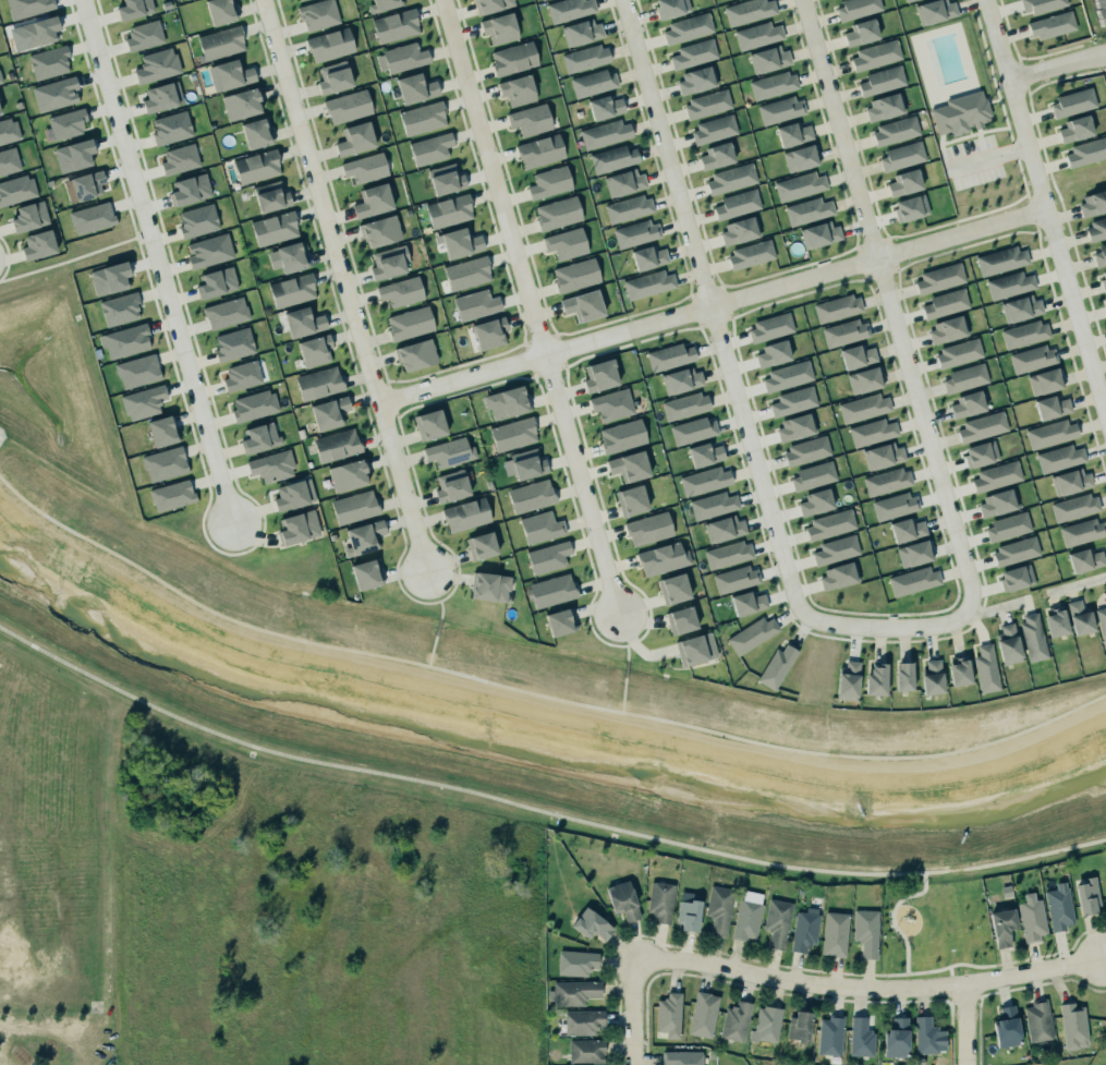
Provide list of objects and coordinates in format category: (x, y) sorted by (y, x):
building: (300, 0)
building: (906, 0)
building: (908, 0)
building: (382, 4)
building: (489, 4)
building: (1040, 5)
building: (27, 8)
building: (670, 8)
building: (856, 8)
building: (1099, 8)
building: (134, 9)
building: (568, 9)
building: (218, 11)
building: (749, 11)
building: (935, 11)
building: (316, 13)
building: (1049, 23)
building: (394, 24)
building: (686, 27)
building: (500, 28)
building: (580, 31)
building: (39, 32)
building: (862, 33)
building: (756, 34)
building: (144, 36)
building: (219, 41)
building: (330, 45)
road: (985, 52)
building: (694, 53)
building: (874, 55)
building: (583, 57)
building: (402, 58)
building: (514, 58)
building: (768, 58)
building: (49, 62)
building: (155, 63)
road: (1057, 65)
building: (230, 73)
building: (332, 76)
building: (696, 78)
building: (0, 80)
building: (880, 80)
building: (592, 82)
building: (773, 84)
building: (416, 88)
building: (518, 90)
building: (56, 94)
building: (162, 97)
road: (987, 98)
road: (994, 99)
building: (240, 102)
building: (1072, 102)
building: (345, 105)
building: (707, 105)
building: (604, 106)
building: (884, 106)
building: (779, 108)
building: (959, 111)
road: (1002, 112)
building: (0, 113)
park: (968, 117)
building: (423, 118)
building: (63, 119)
building: (531, 120)
building: (171, 128)
road: (992, 128)
road: (839, 129)
road: (977, 129)
building: (1075, 129)
building: (713, 130)
building: (894, 130)
building: (9, 131)
building: (257, 133)
building: (793, 133)
building: (606, 134)
road: (979, 134)
road: (1009, 134)
building: (353, 137)
road: (940, 137)
road: (959, 137)
road: (940, 145)
building: (430, 148)
building: (73, 149)
road: (1013, 149)
building: (539, 150)
building: (1085, 153)
building: (901, 155)
building: (716, 156)
building: (611, 157)
road: (988, 157)
building: (801, 158)
building: (179, 159)
building: (9, 161)
parking lot: (972, 161)
building: (257, 167)
building: (364, 167)
road: (1021, 174)
building: (731, 179)
building: (446, 180)
building: (547, 180)
building: (623, 181)
building: (902, 182)
building: (799, 185)
building: (84, 186)
building: (16, 190)
building: (191, 190)
building: (269, 195)
road: (1028, 196)
building: (372, 199)
building: (1092, 203)
building: (738, 204)
road: (1046, 206)
building: (909, 207)
building: (448, 208)
building: (629, 208)
building: (807, 209)
building: (558, 213)
building: (29, 216)
building: (92, 218)
road: (958, 219)
building: (197, 220)
road: (132, 223)
building: (275, 228)
building: (739, 229)
building: (1096, 229)
building: (378, 230)
building: (637, 233)
building: (818, 233)
building: (458, 238)
road: (137, 240)
road: (145, 240)
building: (566, 243)
building: (38, 245)
road: (141, 251)
building: (209, 251)
building: (750, 253)
building: (647, 255)
building: (1099, 255)
building: (290, 256)
road: (158, 259)
building: (1000, 259)
road: (69, 262)
building: (386, 263)
building: (465, 269)
road: (4, 274)
building: (574, 274)
building: (110, 278)
building: (937, 278)
building: (1102, 279)
building: (217, 282)
building: (1008, 283)
building: (649, 285)
road: (344, 286)
building: (291, 289)
building: (400, 290)
building: (474, 301)
building: (944, 303)
building: (1105, 303)
building: (581, 304)
road: (713, 306)
road: (531, 307)
building: (838, 307)
building: (1019, 307)
road: (712, 308)
building: (120, 310)
building: (226, 313)
building: (302, 322)
building: (409, 322)
building: (769, 326)
building: (841, 330)
building: (947, 330)
building: (488, 331)
building: (1023, 334)
building: (125, 341)
building: (233, 344)
building: (314, 349)
building: (771, 352)
building: (959, 352)
building: (414, 353)
building: (858, 355)
building: (670, 356)
building: (1033, 359)
park: (78, 360)
building: (138, 371)
building: (598, 374)
building: (963, 374)
building: (242, 376)
building: (788, 376)
building: (680, 379)
building: (864, 379)
building: (317, 382)
building: (1043, 382)
building: (506, 401)
building: (793, 401)
building: (143, 402)
building: (965, 403)
building: (612, 404)
building: (255, 406)
building: (685, 406)
building: (1050, 406)
building: (864, 408)
building: (327, 411)
building: (429, 424)
building: (794, 426)
building: (981, 426)
building: (691, 429)
building: (162, 431)
building: (871, 431)
building: (512, 433)
building: (619, 433)
building: (1049, 433)
building: (260, 437)
building: (336, 444)
building: (805, 450)
building: (448, 452)
building: (704, 453)
building: (979, 453)
building: (882, 455)
building: (1058, 457)
building: (627, 461)
building: (165, 463)
building: (270, 463)
building: (524, 464)
building: (347, 474)
building: (812, 475)
building: (995, 475)
building: (703, 480)
building: (886, 480)
building: (1069, 481)
building: (450, 486)
building: (172, 495)
building: (294, 495)
building: (530, 495)
building: (631, 500)
building: (815, 501)
building: (997, 501)
building: (712, 504)
building: (894, 505)
building: (353, 506)
building: (1073, 507)
building: (466, 515)
road: (950, 516)
building: (295, 522)
building: (829, 523)
building: (1007, 525)
building: (542, 527)
building: (724, 528)
building: (906, 528)
building: (649, 529)
building: (1081, 531)
building: (364, 537)
building: (481, 545)
building: (834, 548)
building: (1013, 549)
building: (547, 553)
building: (914, 553)
building: (727, 554)
building: (663, 558)
building: (1083, 558)
building: (365, 573)
building: (836, 574)
building: (1014, 577)
building: (737, 579)
building: (914, 581)
building: (488, 584)
road: (1077, 585)
building: (548, 586)
building: (672, 588)
road: (449, 592)
road: (412, 597)
building: (749, 603)
road: (441, 608)
road: (996, 608)
building: (1079, 617)
building: (681, 620)
building: (560, 621)
building: (1055, 622)
building: (1101, 624)
road: (437, 626)
building: (751, 633)
building: (1032, 637)
road: (598, 638)
road: (632, 641)
building: (1007, 644)
building: (694, 648)
road: (430, 651)
road: (627, 651)
building: (775, 666)
road: (625, 668)
building: (985, 668)
building: (959, 671)
building: (902, 676)
building: (876, 678)
building: (933, 678)
building: (848, 680)
road: (622, 694)
road: (537, 695)
road: (540, 812)
building: (1085, 897)
building: (623, 900)
building: (661, 901)
building: (1058, 906)
building: (719, 909)
building: (689, 915)
road: (892, 915)
building: (748, 916)
building: (1031, 918)
building: (776, 921)
building: (592, 924)
building: (1001, 927)
building: (804, 928)
park: (934, 930)
building: (864, 931)
building: (834, 933)
building: (576, 963)
road: (952, 964)
road: (889, 973)
road: (867, 991)
building: (573, 992)
road: (634, 1013)
building: (703, 1014)
building: (669, 1015)
building: (734, 1020)
building: (1037, 1020)
building: (582, 1021)
building: (766, 1025)
building: (799, 1026)
road: (962, 1026)
building: (1073, 1026)
building: (1006, 1027)
building: (829, 1034)
building: (924, 1034)
building: (860, 1037)
building: (895, 1038)
building: (586, 1051)
building: (682, 1057)

